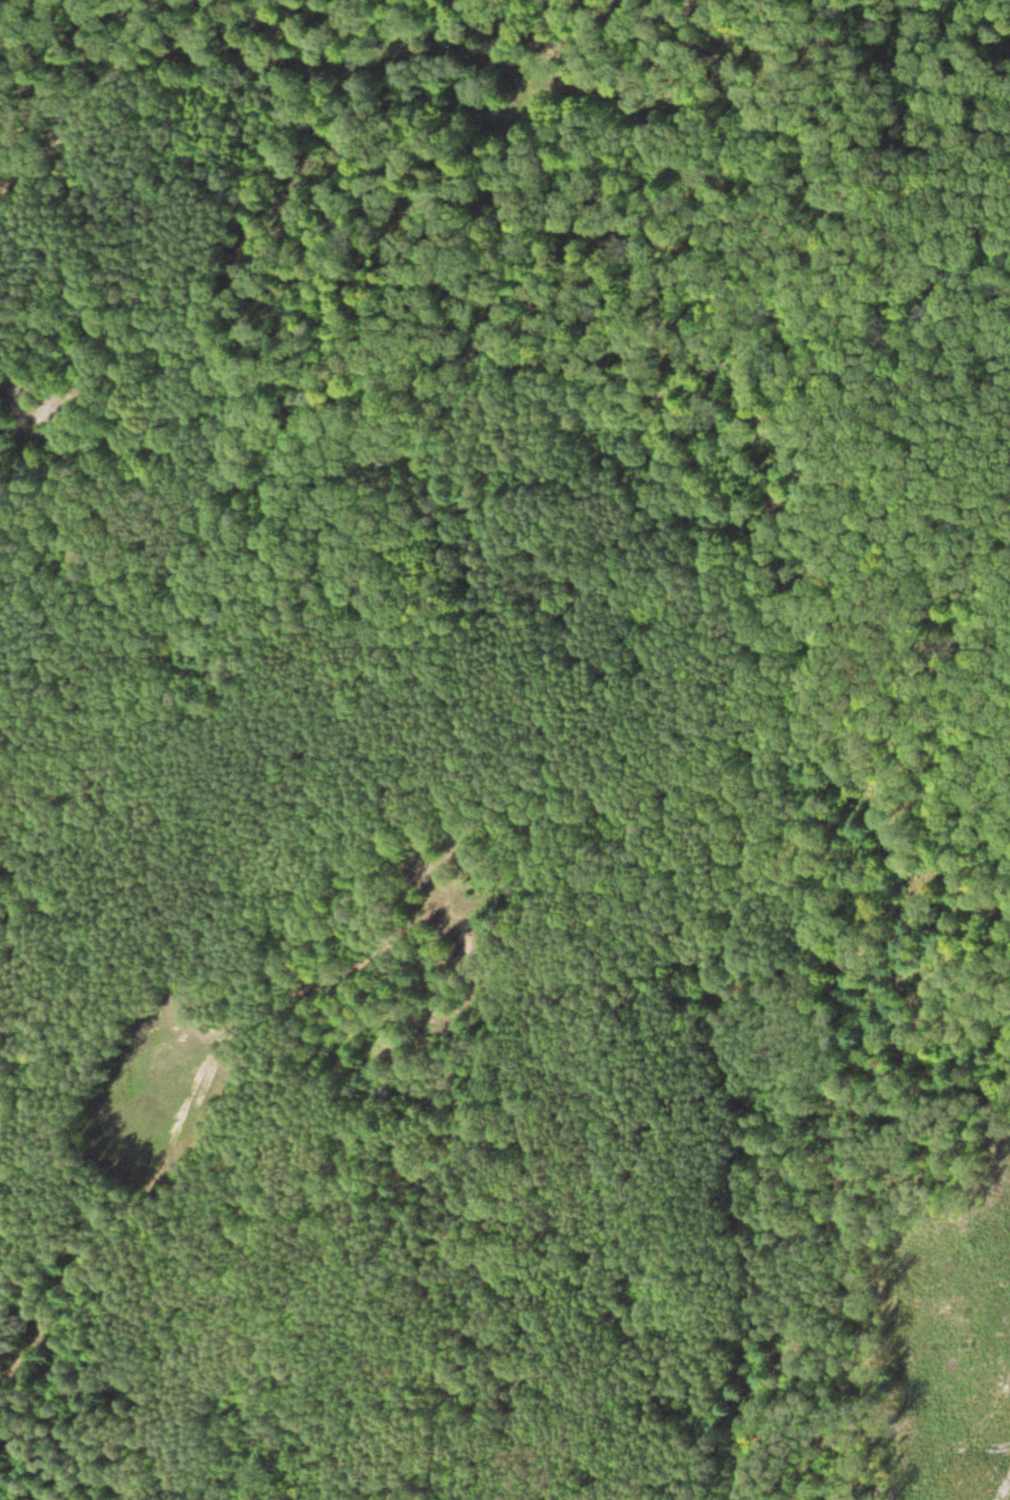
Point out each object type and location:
road: (442, 746)

